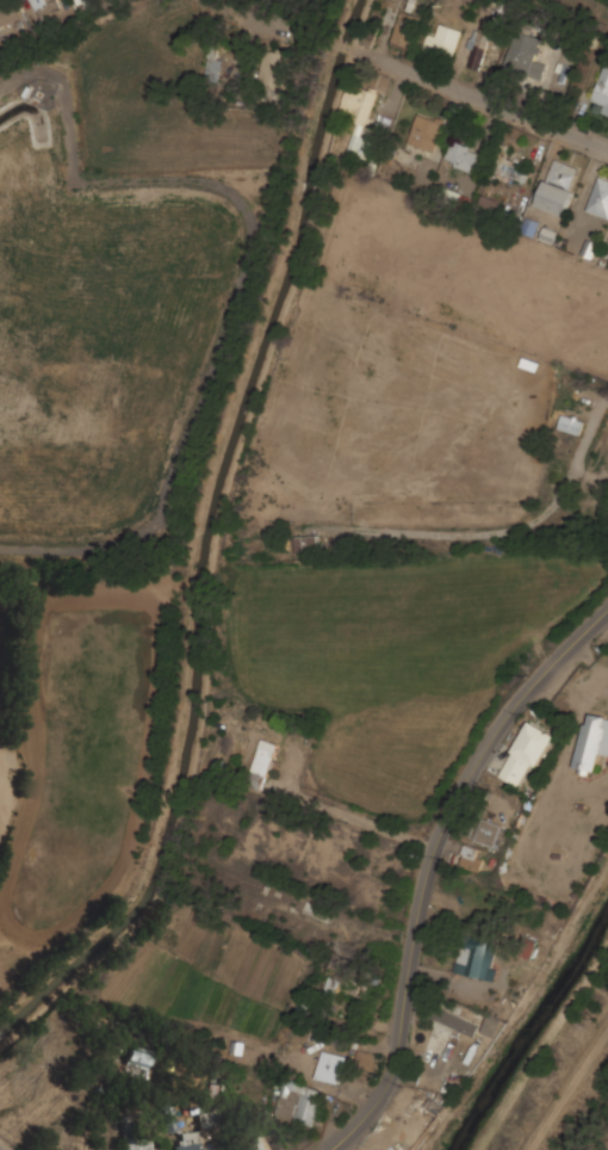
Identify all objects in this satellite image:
building: (45, 7)
building: (8, 12)
building: (405, 29)
building: (442, 42)
building: (477, 49)
building: (525, 56)
building: (213, 67)
building: (275, 67)
building: (602, 92)
road: (486, 97)
building: (359, 103)
building: (426, 132)
building: (362, 147)
building: (463, 156)
building: (509, 165)
building: (559, 185)
building: (598, 198)
building: (489, 203)
building: (531, 228)
building: (548, 234)
building: (571, 423)
building: (306, 543)
building: (591, 743)
building: (527, 752)
building: (262, 763)
building: (489, 833)
building: (472, 858)
road: (434, 861)
building: (474, 960)
building: (459, 1016)
building: (492, 1026)
building: (138, 1059)
building: (366, 1061)
building: (331, 1068)
building: (298, 1101)
building: (188, 1140)
building: (137, 1144)
building: (252, 1144)

